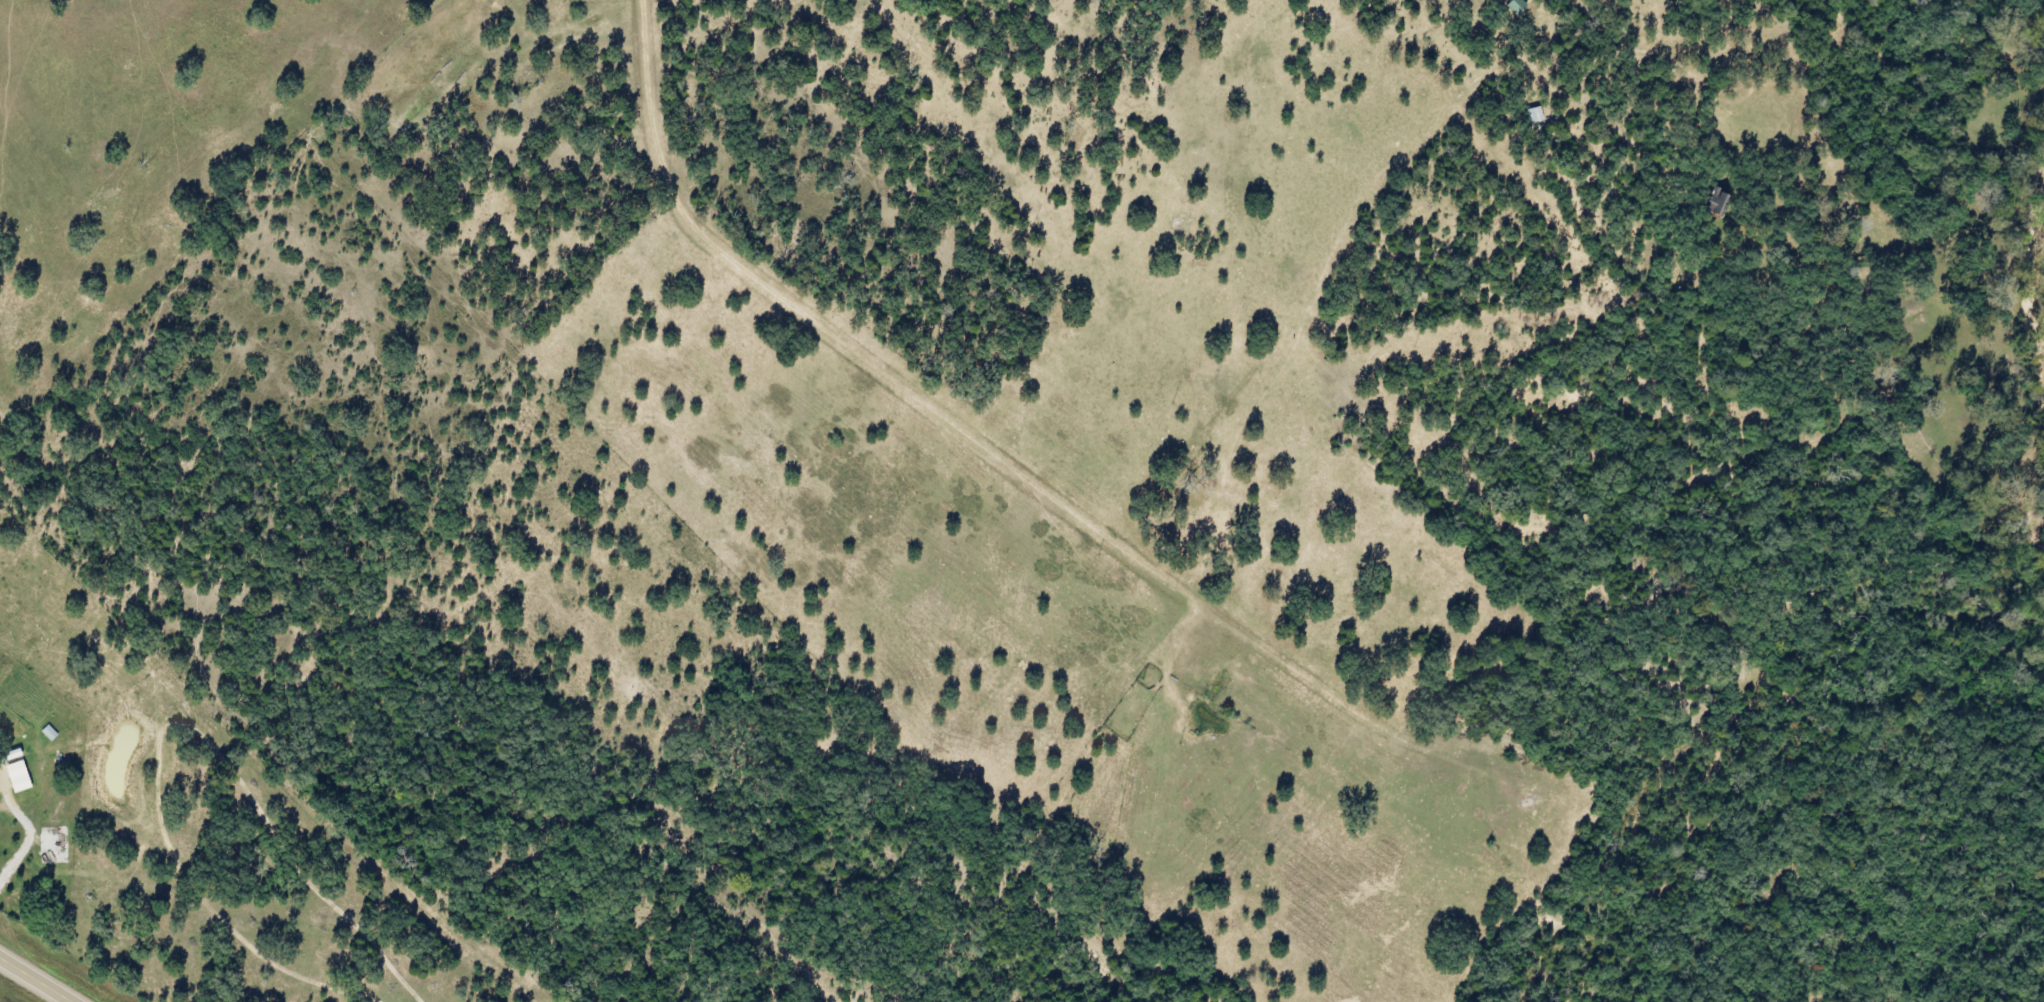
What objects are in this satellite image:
building: (1704, 203)
building: (53, 734)
building: (21, 777)
building: (0, 793)
road: (36, 843)
road: (36, 979)

